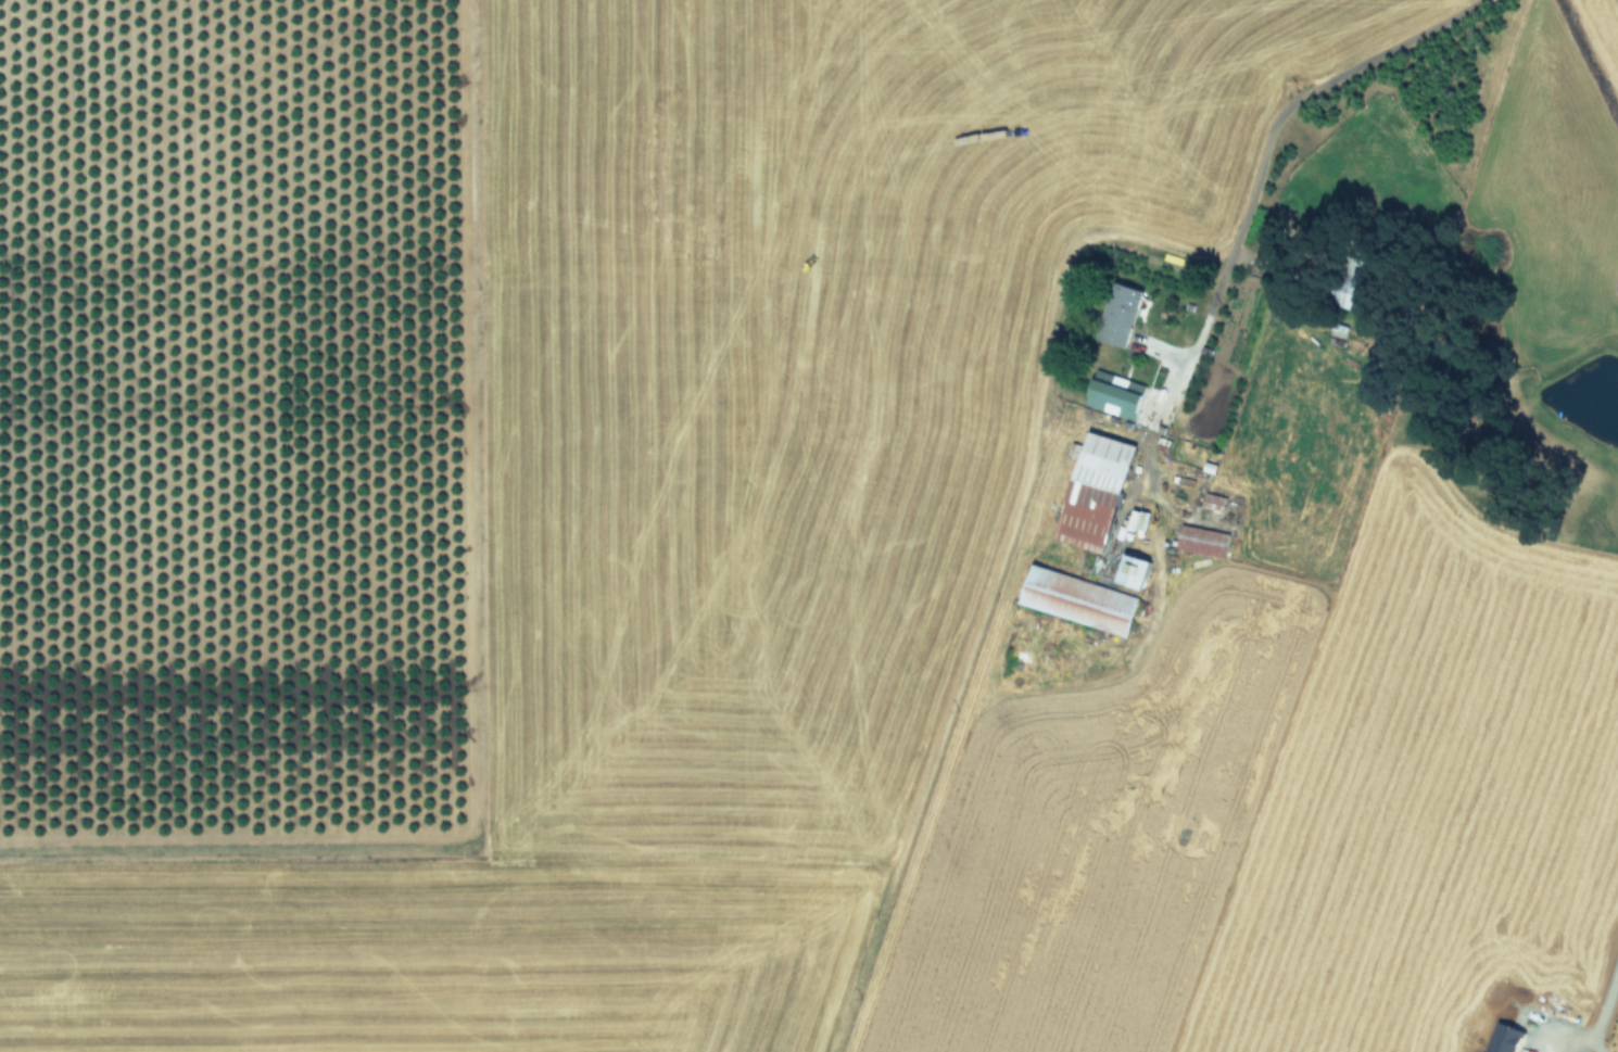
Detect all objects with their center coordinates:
road: (1307, 90)
building: (1124, 313)
building: (1117, 397)
building: (1101, 483)
building: (1138, 518)
crop: (809, 525)
building: (1204, 540)
building: (1137, 569)
building: (1080, 598)
road: (1600, 1019)

